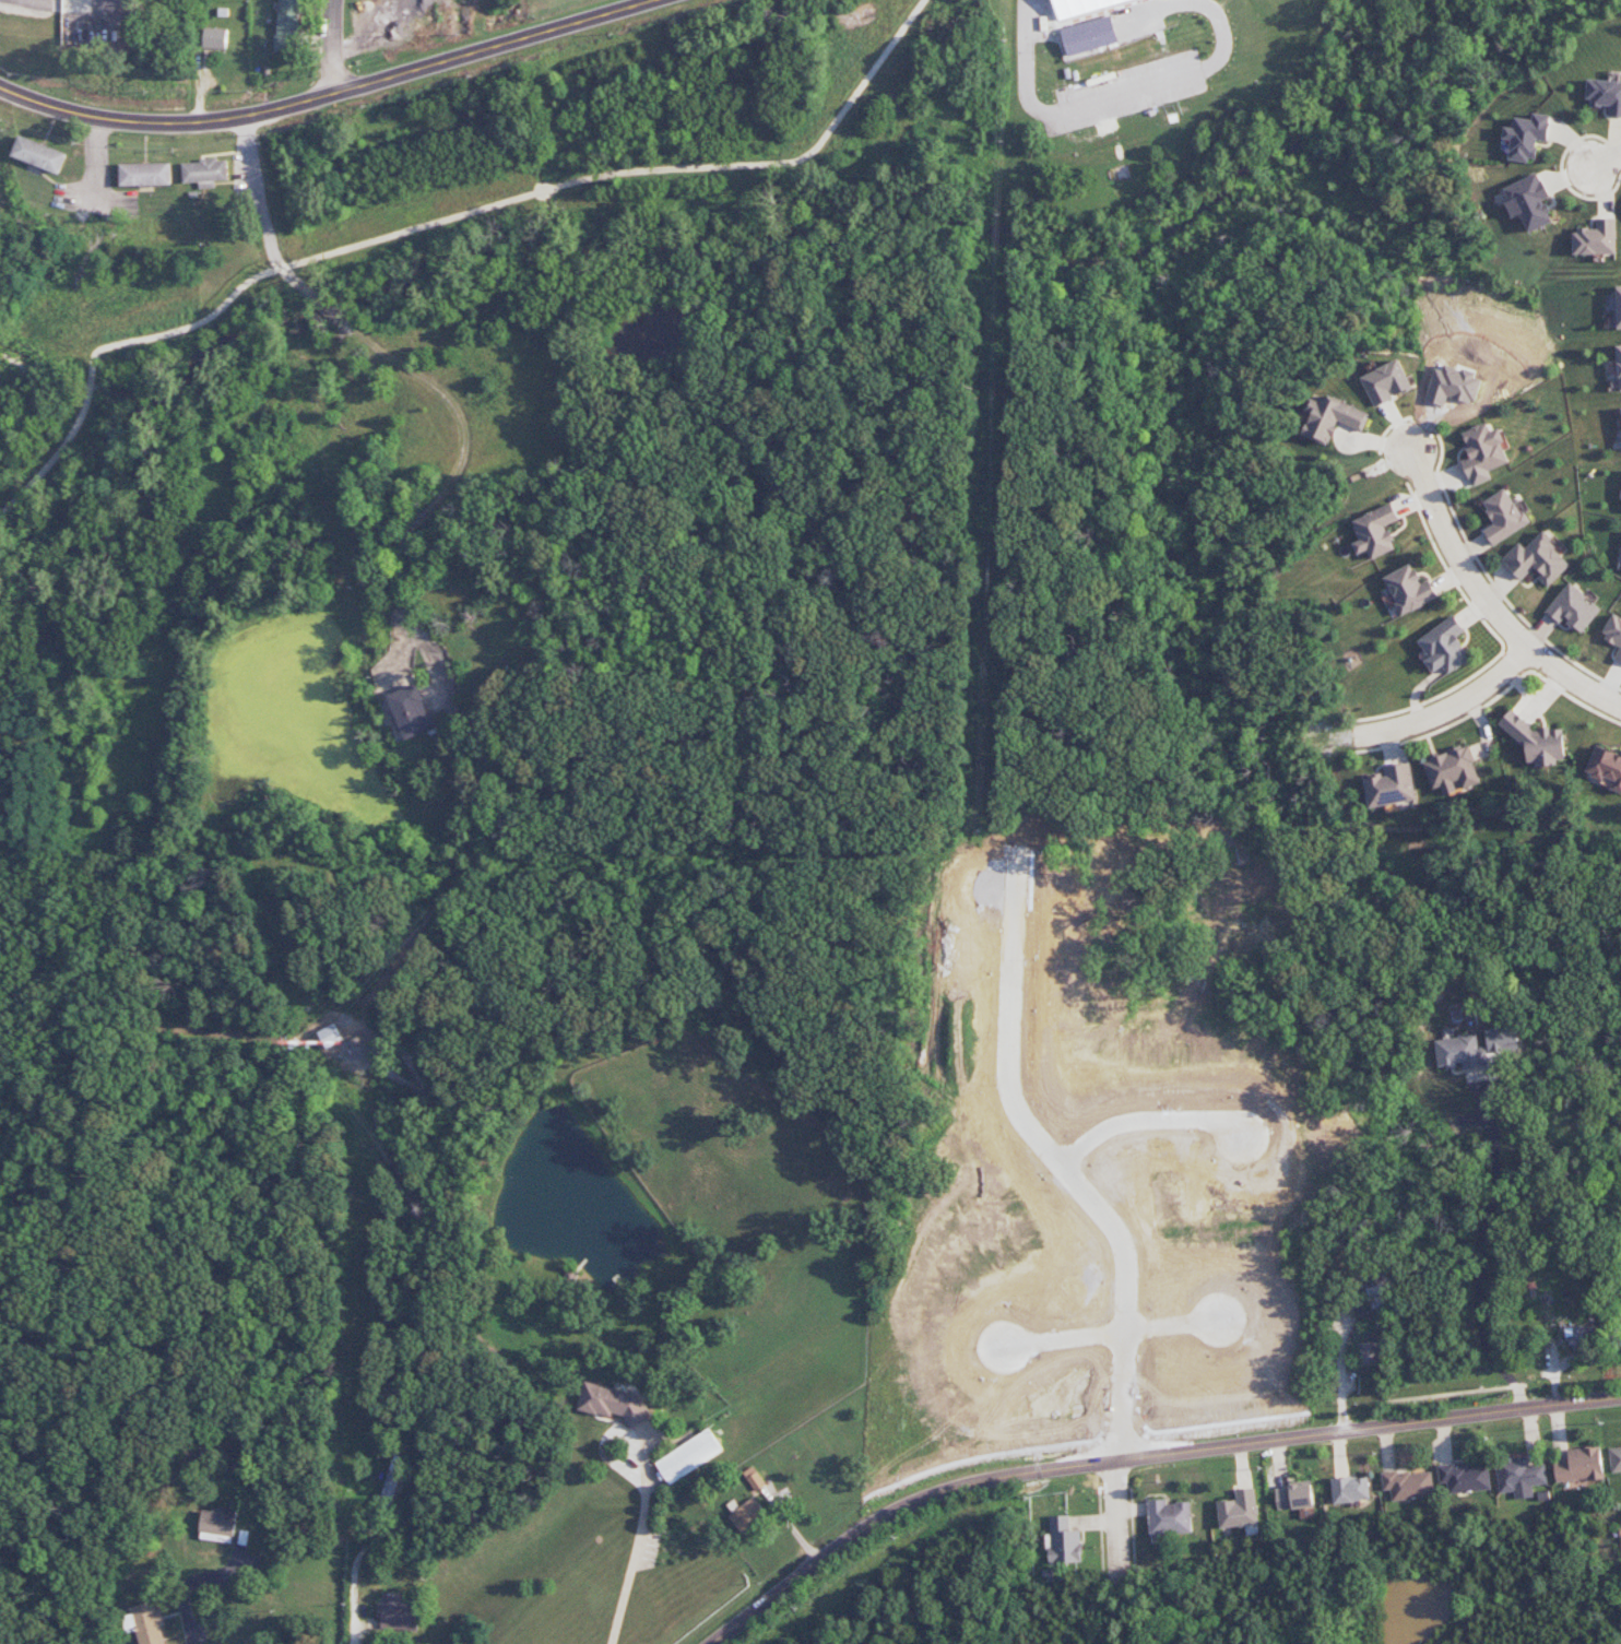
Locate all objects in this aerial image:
building: (1079, 5)
building: (287, 26)
building: (1089, 36)
building: (214, 38)
road: (333, 47)
road: (330, 94)
building: (1605, 95)
building: (1526, 137)
building: (39, 154)
road: (1607, 161)
building: (205, 173)
building: (145, 174)
building: (1528, 202)
road: (260, 216)
road: (442, 221)
building: (1595, 238)
road: (327, 305)
building: (1619, 306)
building: (1619, 364)
building: (1386, 382)
building: (1329, 418)
building: (1483, 452)
road: (452, 487)
building: (1503, 517)
building: (1374, 532)
building: (1537, 559)
building: (1408, 590)
road: (1487, 602)
building: (1573, 608)
building: (1613, 634)
building: (1444, 646)
building: (412, 711)
road: (1432, 715)
building: (1535, 741)
building: (1606, 767)
building: (1452, 770)
building: (1389, 785)
building: (330, 1036)
building: (1459, 1051)
road: (1480, 1245)
building: (1088, 1252)
building: (1579, 1338)
building: (1369, 1351)
building: (1121, 1371)
building: (613, 1403)
building: (689, 1456)
building: (1614, 1457)
road: (1141, 1458)
building: (1579, 1465)
building: (393, 1476)
building: (1519, 1476)
building: (754, 1478)
building: (1465, 1478)
building: (1407, 1486)
building: (1350, 1489)
building: (1293, 1497)
building: (1238, 1510)
building: (747, 1515)
building: (1169, 1517)
road: (1121, 1523)
building: (217, 1524)
road: (793, 1528)
road: (635, 1536)
building: (1063, 1540)
building: (1620, 1542)
road: (360, 1561)
road: (214, 1593)
building: (398, 1612)
building: (150, 1623)

